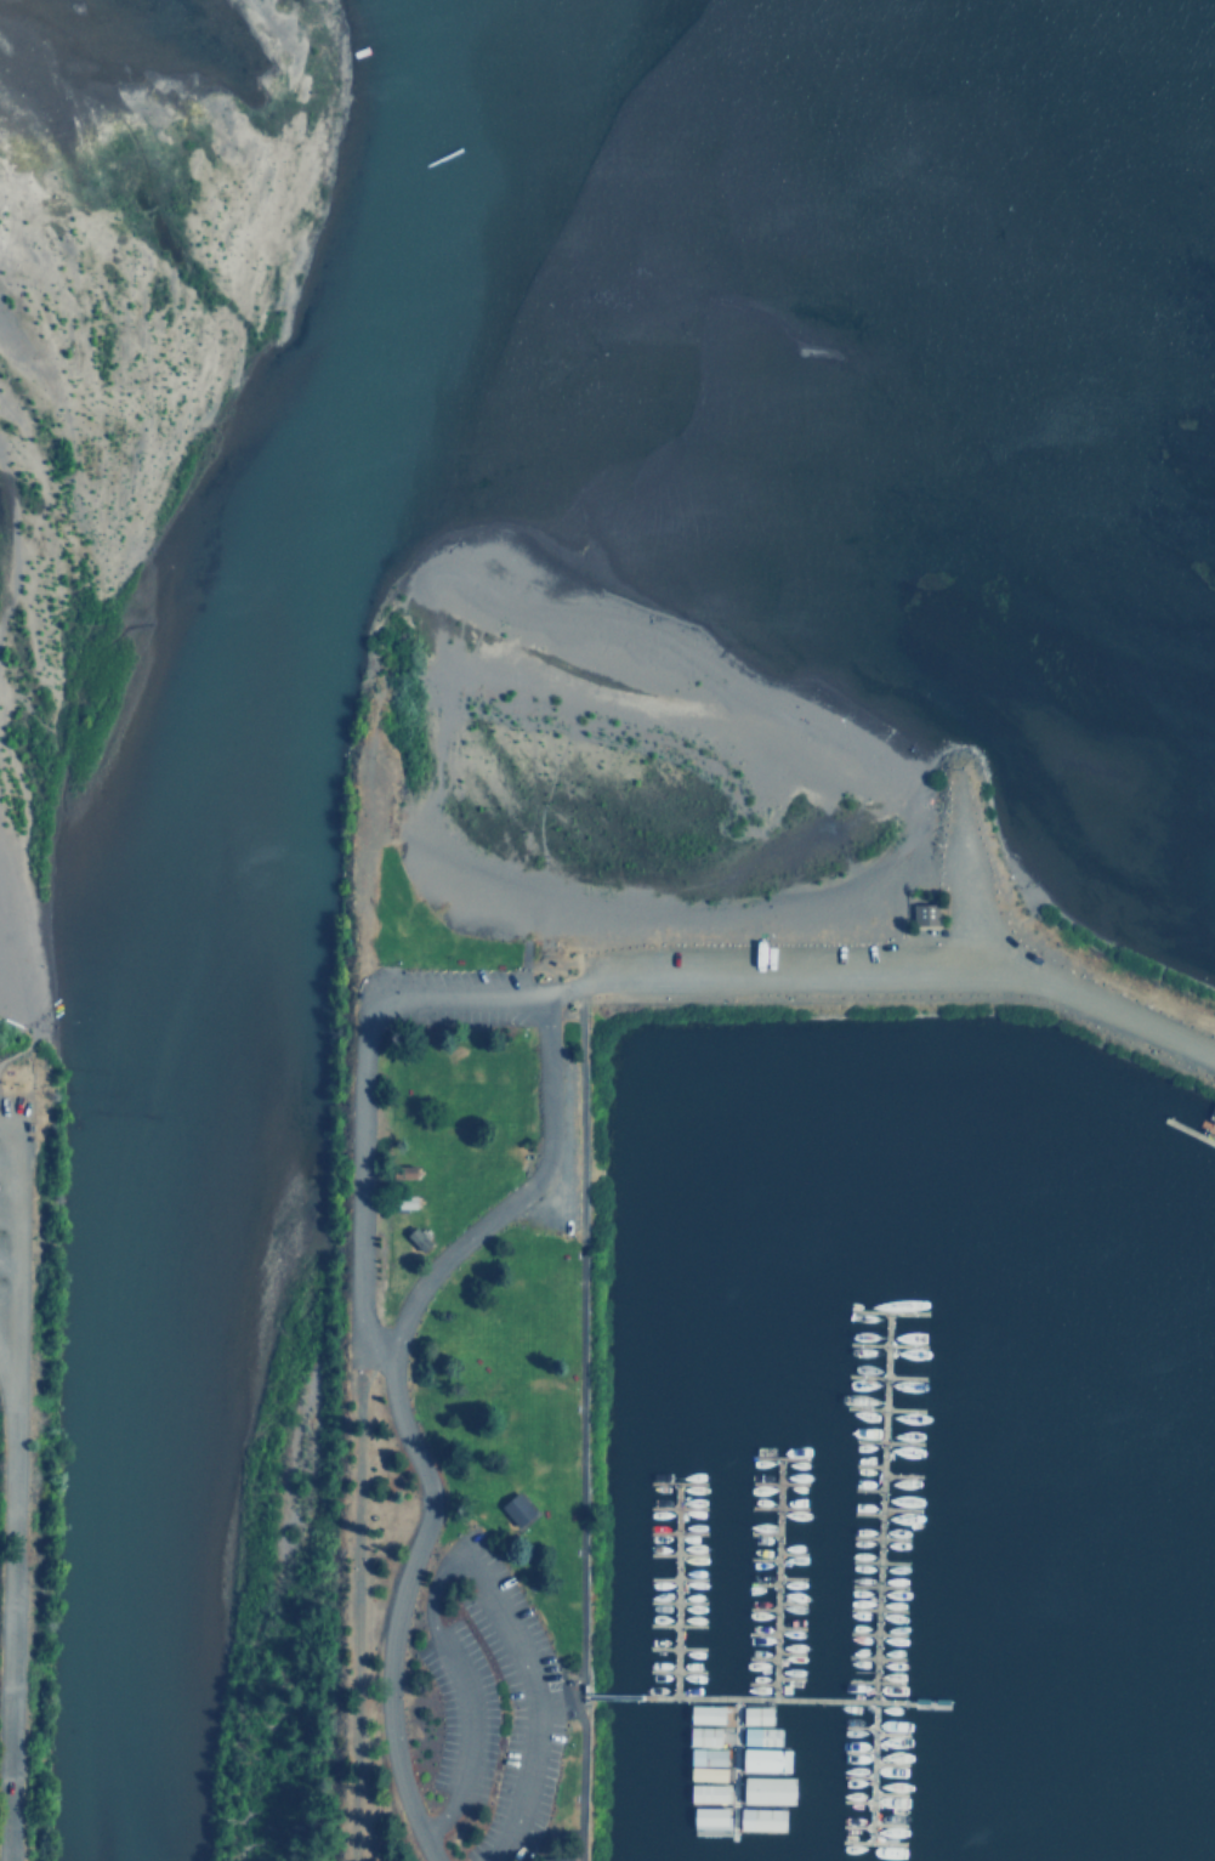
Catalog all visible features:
lighthouse: (377, 756)
road: (958, 869)
river: (197, 904)
building: (921, 912)
parking lot: (983, 914)
parking lot: (774, 954)
road: (887, 971)
parking lot: (459, 994)
road: (358, 1100)
parking lot: (562, 1116)
road: (1208, 1124)
road: (1205, 1125)
road: (1187, 1130)
road: (6, 1161)
road: (518, 1191)
parking lot: (11, 1196)
road: (6, 1210)
road: (13, 1241)
road: (7, 1256)
park: (533, 1280)
road: (885, 1311)
road: (884, 1344)
road: (1, 1367)
road: (881, 1375)
road: (880, 1407)
road: (580, 1424)
park: (25, 1426)
road: (885, 1441)
road: (776, 1456)
road: (864, 1464)
road: (898, 1475)
road: (774, 1481)
road: (674, 1482)
road: (864, 1488)
building: (512, 1507)
road: (776, 1507)
road: (674, 1508)
road: (897, 1509)
road: (863, 1514)
road: (674, 1532)
road: (761, 1533)
road: (876, 1537)
road: (674, 1553)
road: (788, 1553)
road: (760, 1558)
road: (875, 1561)
road: (462, 1565)
road: (875, 1577)
road: (674, 1578)
road: (774, 1578)
road: (788, 1578)
road: (760, 1584)
road: (874, 1585)
road: (674, 1590)
road: (351, 1596)
road: (674, 1601)
road: (787, 1602)
road: (394, 1604)
road: (874, 1608)
road: (759, 1610)
road: (8, 1615)
road: (672, 1624)
road: (787, 1628)
road: (871, 1633)
road: (759, 1634)
road: (672, 1649)
road: (787, 1653)
road: (871, 1657)
road: (757, 1658)
road: (672, 1672)
road: (785, 1679)
road: (871, 1681)
road: (757, 1684)
road: (757, 1700)
parking lot: (481, 1701)
building: (703, 1713)
building: (755, 1714)
road: (856, 1727)
road: (887, 1734)
building: (760, 1735)
road: (855, 1752)
building: (763, 1759)
road: (887, 1764)
road: (732, 1766)
road: (855, 1776)
building: (763, 1789)
building: (709, 1792)
road: (886, 1793)
road: (853, 1800)
building: (710, 1815)
building: (759, 1817)
road: (885, 1823)
road: (852, 1826)
road: (869, 1843)
building: (549, 1859)

